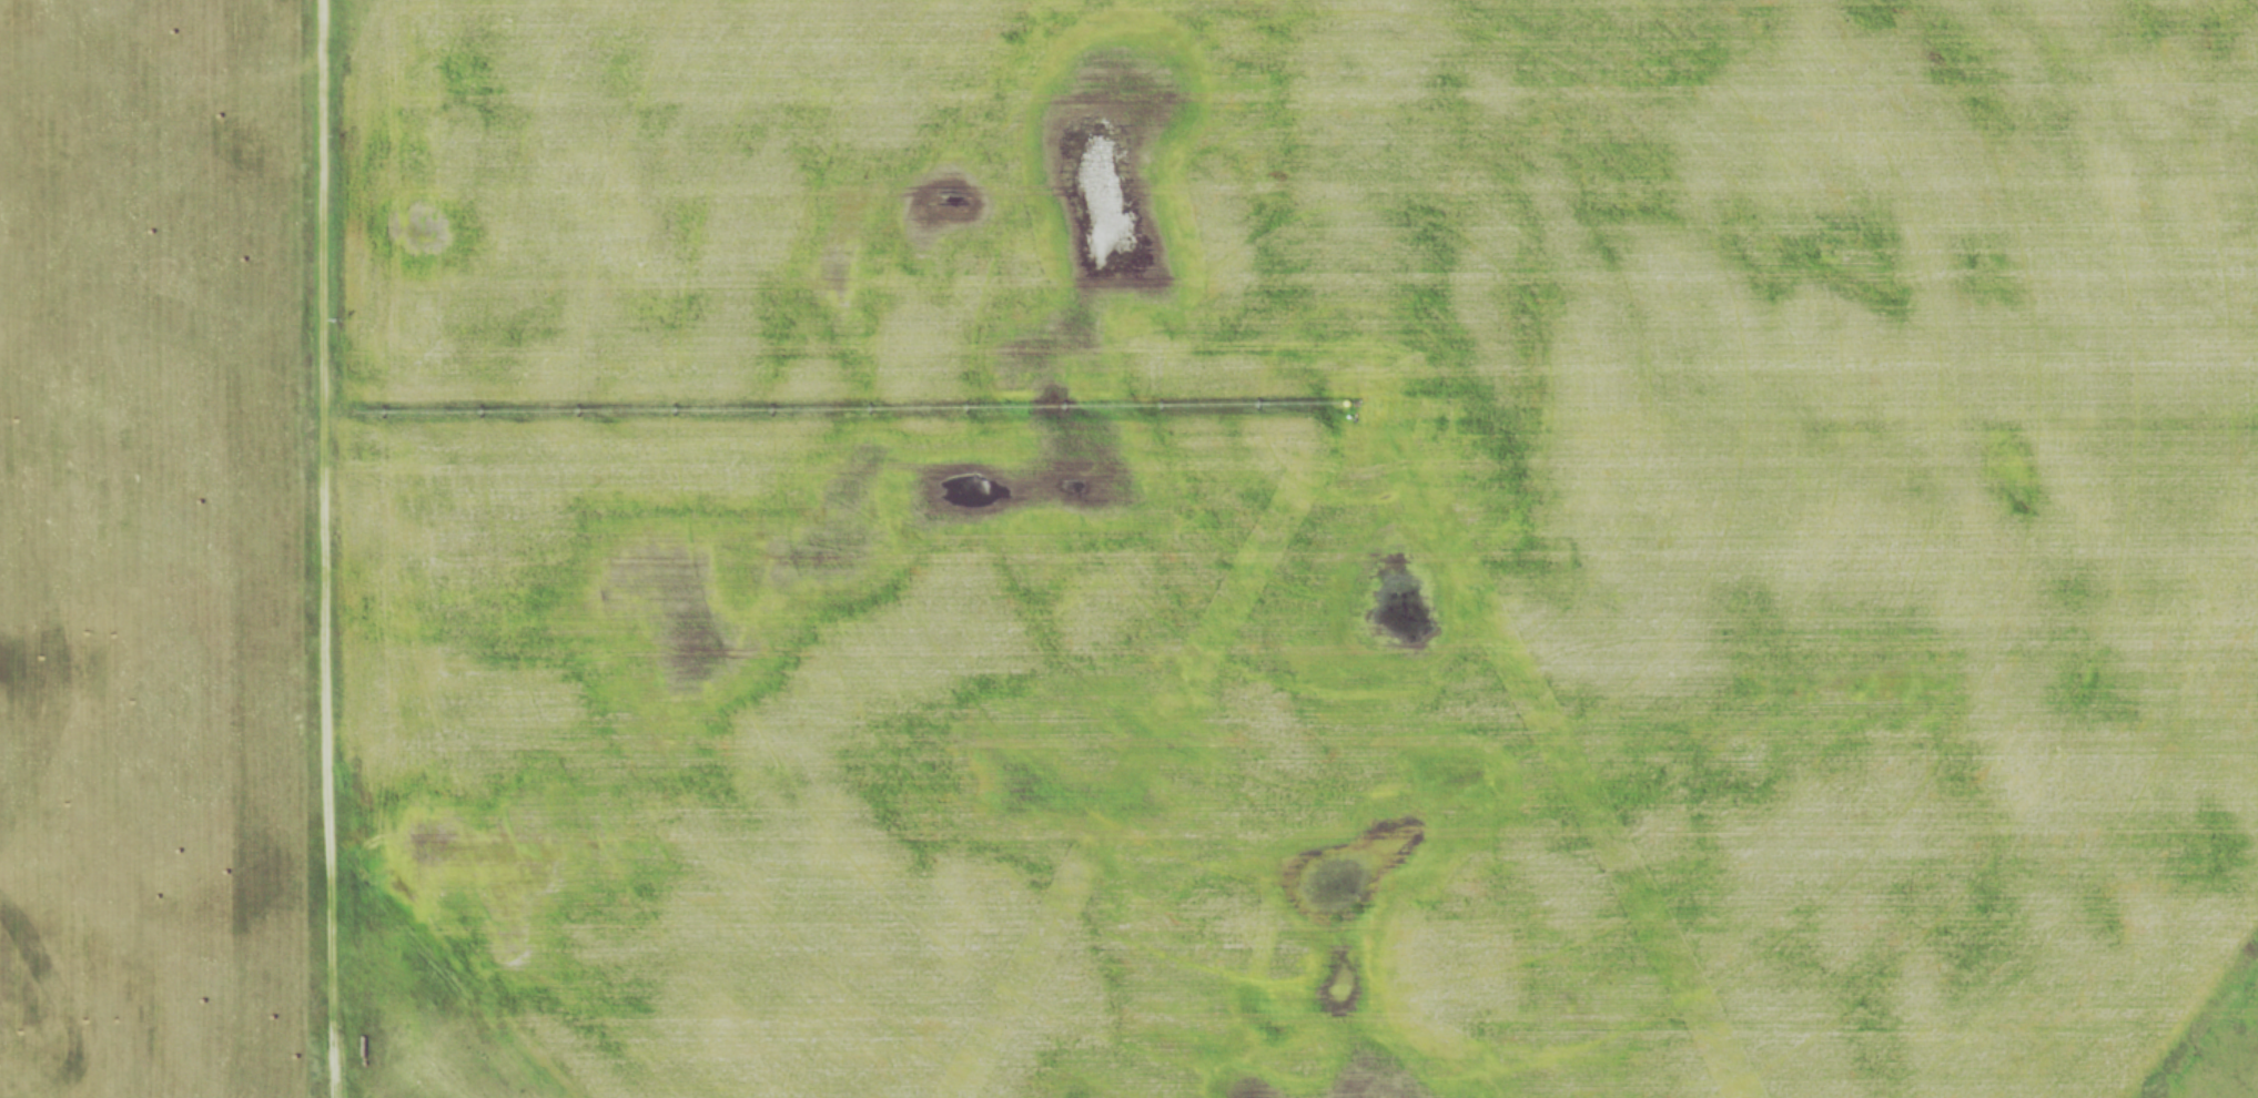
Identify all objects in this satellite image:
road: (322, 549)

